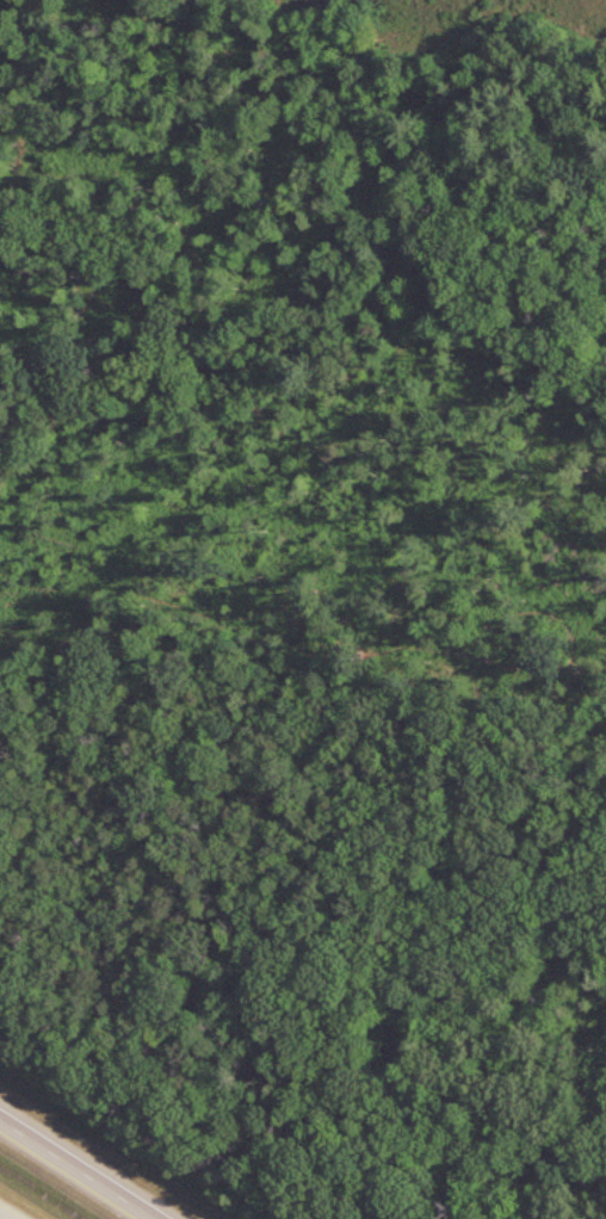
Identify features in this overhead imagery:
road: (78, 1168)
road: (4, 1215)

